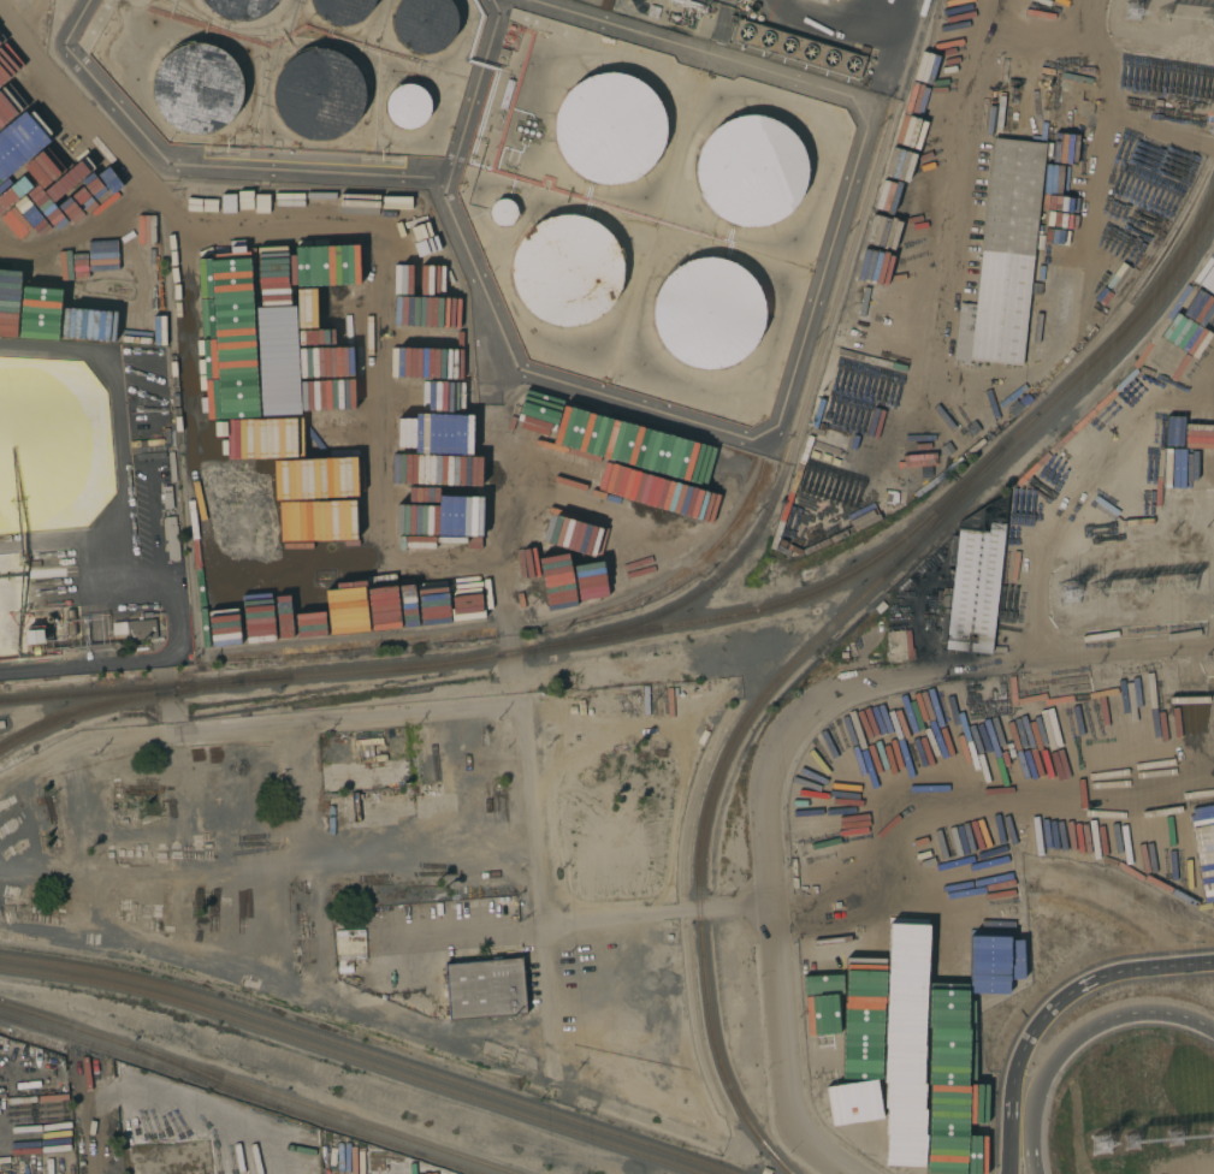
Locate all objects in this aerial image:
building: (605, 4)
building: (688, 4)
building: (238, 6)
storage tank: (238, 6)
building: (753, 6)
building: (652, 11)
building: (343, 12)
storage tank: (343, 12)
power tower: (1135, 12)
power tower: (1169, 12)
building: (751, 14)
building: (759, 17)
power tower: (1212, 18)
building: (421, 24)
storage tank: (421, 24)
road: (1101, 26)
building: (606, 40)
building: (800, 48)
building: (502, 52)
building: (1072, 69)
road: (1118, 77)
building: (200, 88)
storage tank: (200, 88)
building: (505, 93)
building: (318, 94)
storage tank: (318, 94)
building: (408, 106)
storage tank: (408, 106)
building: (611, 125)
storage tank: (611, 125)
building: (747, 167)
storage tank: (747, 167)
road: (966, 182)
building: (502, 211)
storage tank: (502, 211)
building: (1003, 257)
building: (569, 269)
storage tank: (569, 269)
building: (707, 313)
storage tank: (707, 313)
road: (1212, 366)
railway: (810, 391)
building: (858, 401)
building: (148, 441)
building: (149, 455)
building: (171, 467)
building: (821, 470)
road: (119, 473)
building: (831, 473)
building: (166, 497)
building: (890, 498)
railway: (948, 506)
road: (1044, 521)
road: (63, 536)
building: (171, 538)
building: (975, 579)
power tower: (1183, 585)
power tower: (1143, 587)
power tower: (1097, 593)
power tower: (1067, 594)
building: (880, 606)
railway: (770, 607)
building: (935, 611)
building: (48, 619)
building: (70, 622)
building: (138, 629)
building: (47, 635)
building: (34, 638)
railway: (811, 646)
building: (898, 646)
road: (78, 665)
road: (159, 674)
railway: (81, 694)
railway: (122, 701)
road: (167, 708)
road: (257, 723)
building: (1, 724)
road: (783, 745)
building: (369, 755)
road: (1007, 787)
road: (90, 840)
road: (315, 871)
road: (1001, 890)
road: (543, 900)
road: (659, 915)
road: (476, 932)
road: (1166, 968)
building: (485, 988)
road: (1073, 990)
road: (278, 1000)
road: (1078, 1034)
railway: (372, 1053)
railway: (350, 1059)
railway: (141, 1061)
railway: (207, 1077)
building: (147, 1078)
railway: (257, 1087)
road: (1012, 1095)
road: (201, 1111)
road: (95, 1117)
building: (61, 1139)
railway: (381, 1140)
power tower: (1190, 1142)
power tower: (1147, 1146)
power tower: (1105, 1148)
building: (763, 1169)
road: (1036, 1169)
road: (1037, 1169)

